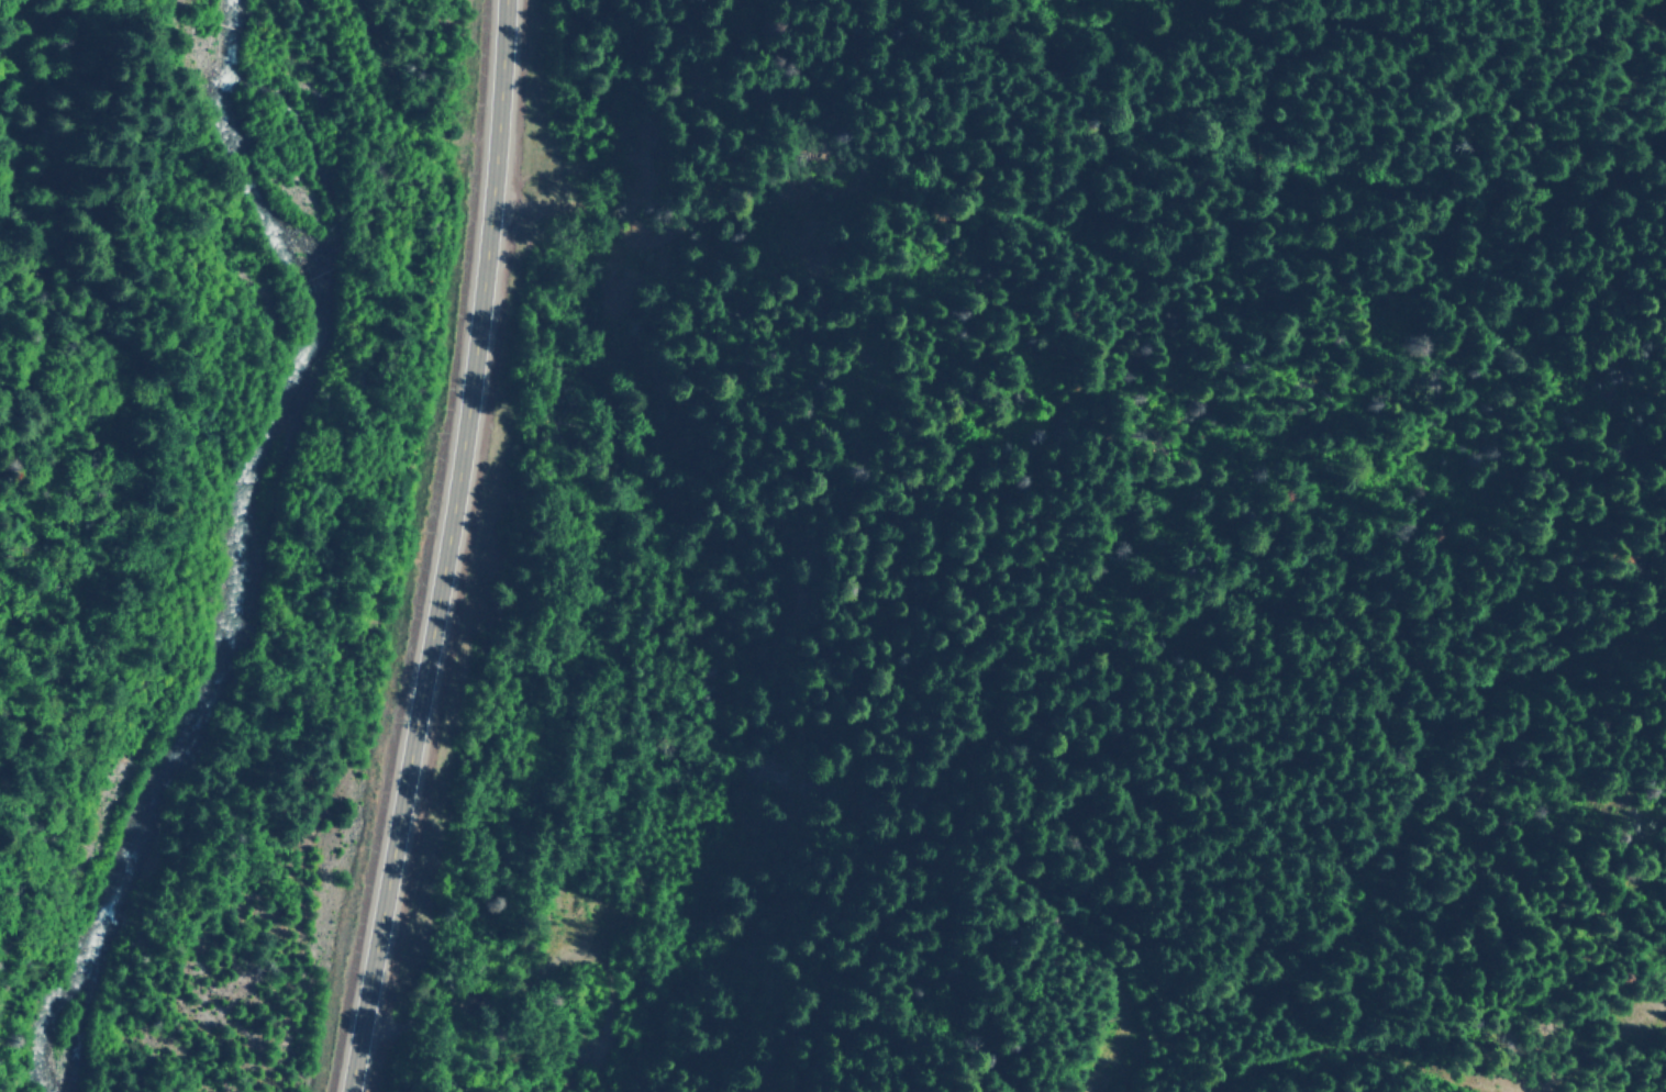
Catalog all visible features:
river: (245, 547)
road: (449, 548)
road: (484, 996)
road: (1082, 1078)

